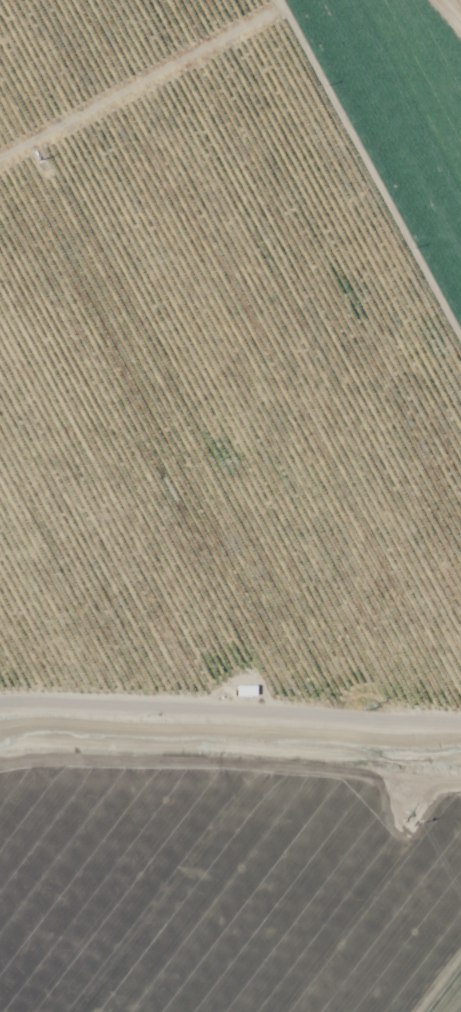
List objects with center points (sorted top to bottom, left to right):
road: (453, 8)
crop: (230, 506)
road: (231, 733)

